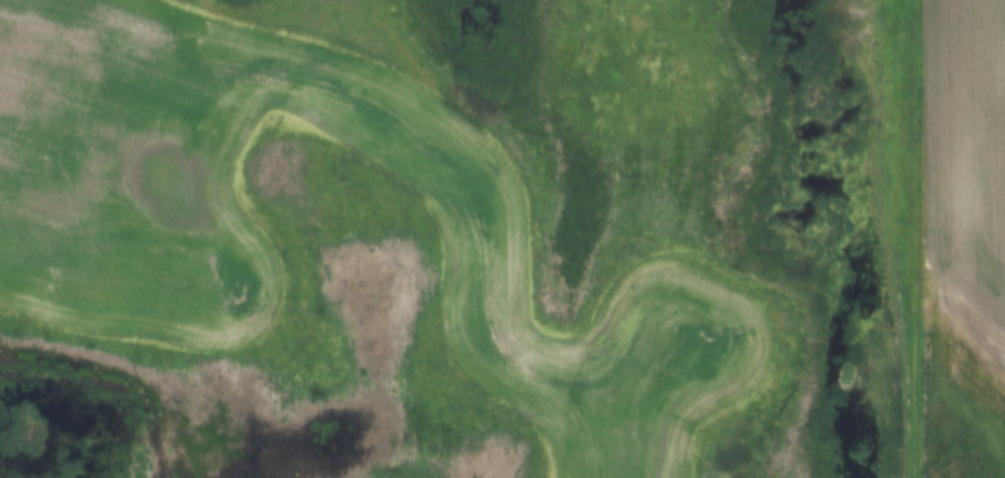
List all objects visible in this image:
road: (911, 238)

